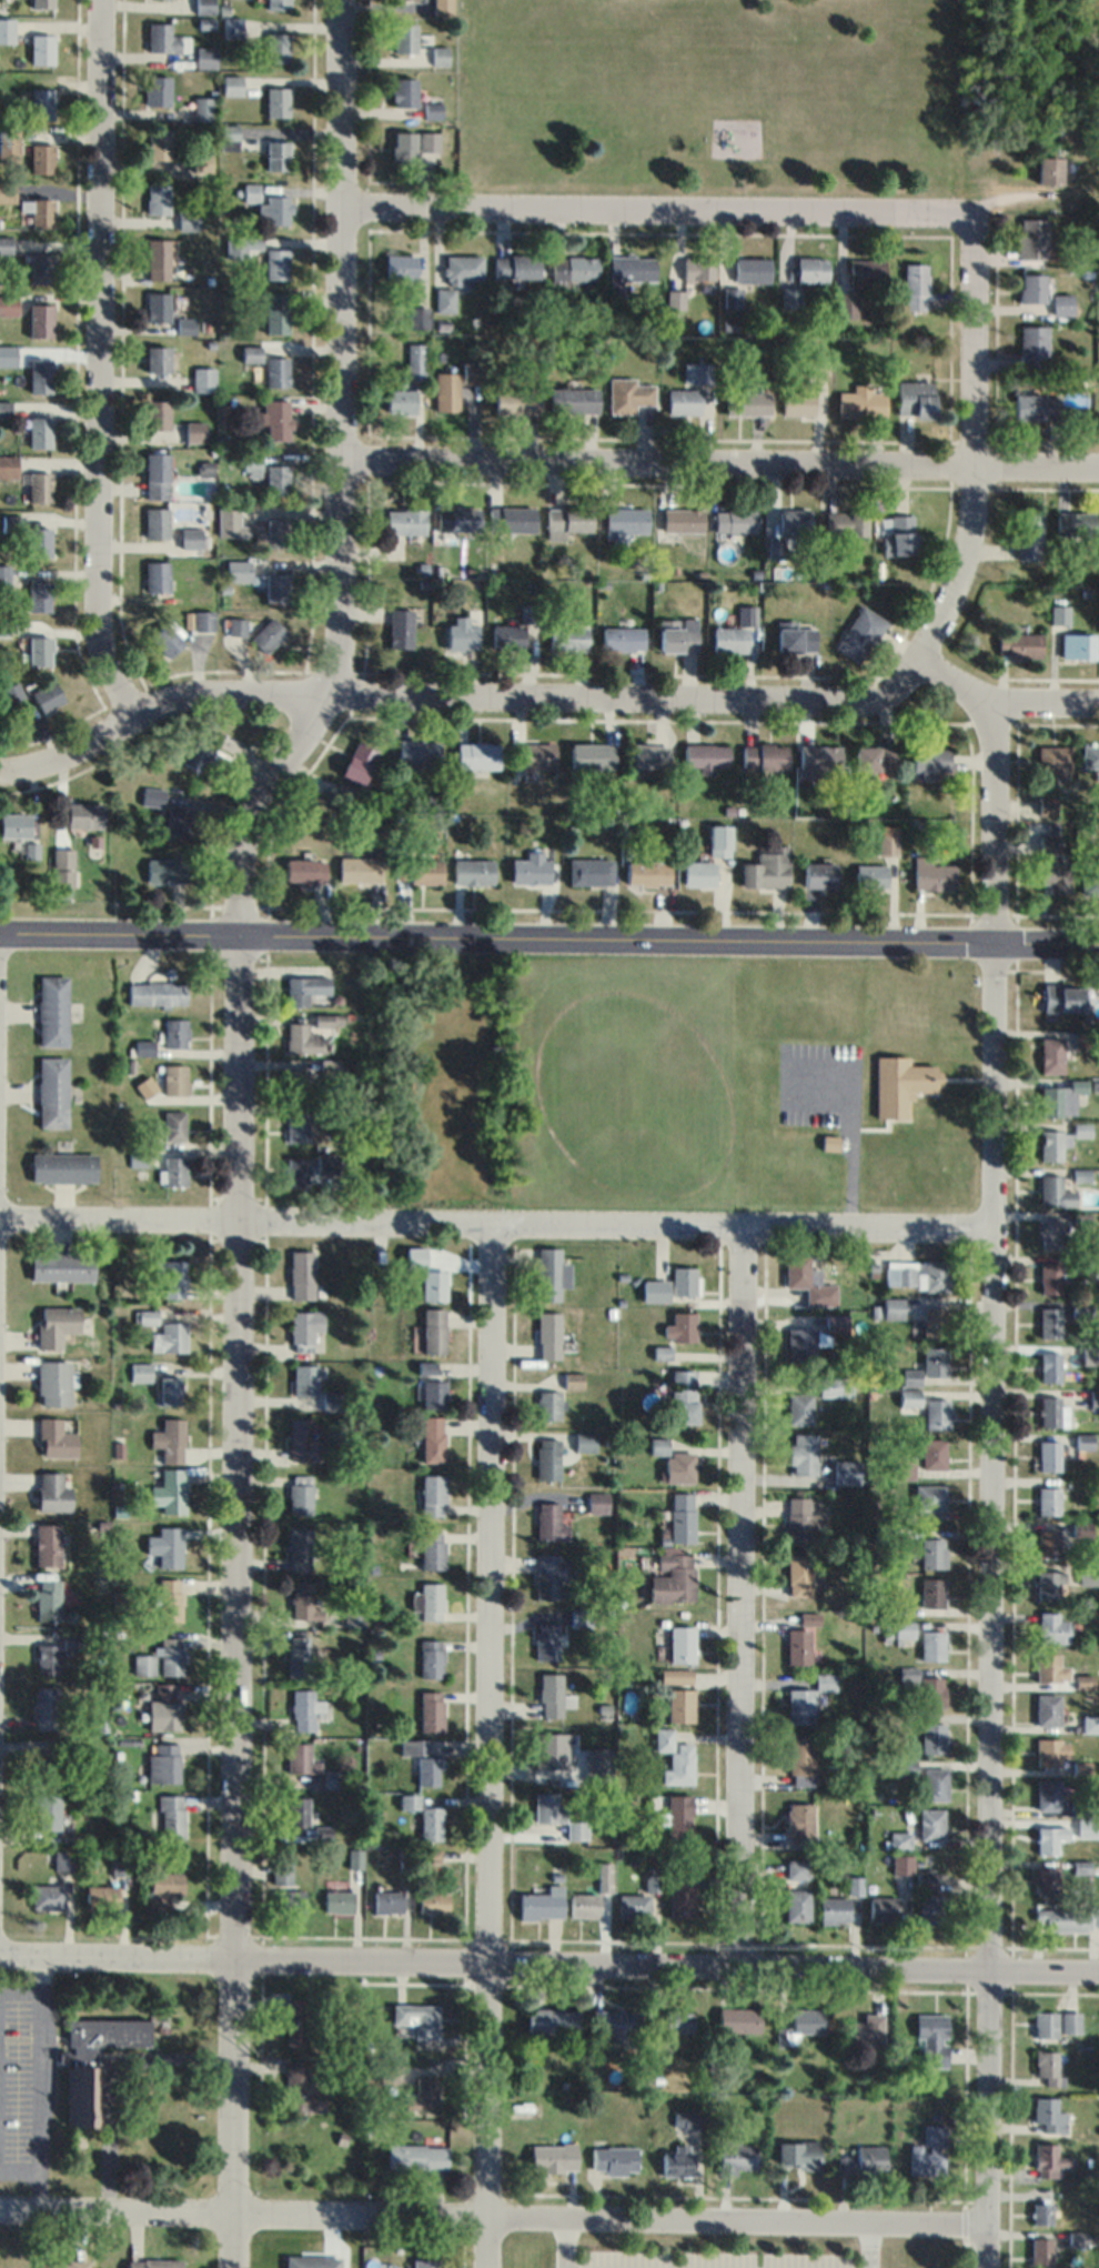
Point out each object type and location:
building: (42, 3)
building: (279, 4)
building: (204, 7)
building: (443, 7)
building: (232, 27)
building: (7, 33)
building: (165, 39)
building: (405, 39)
building: (278, 48)
building: (41, 49)
building: (440, 56)
building: (205, 57)
building: (231, 84)
building: (159, 90)
building: (405, 92)
building: (276, 102)
building: (41, 103)
building: (202, 109)
building: (433, 111)
building: (428, 141)
building: (158, 144)
building: (9, 145)
building: (404, 145)
building: (276, 155)
building: (41, 158)
building: (202, 161)
building: (1050, 170)
building: (6, 191)
building: (158, 199)
building: (269, 207)
road: (659, 210)
building: (38, 211)
building: (189, 219)
building: (1032, 238)
building: (242, 247)
building: (185, 251)
building: (158, 259)
building: (276, 263)
building: (402, 265)
building: (516, 265)
building: (464, 267)
building: (575, 267)
building: (40, 268)
building: (632, 268)
building: (698, 268)
building: (753, 269)
building: (813, 269)
building: (867, 271)
building: (916, 287)
building: (1032, 287)
building: (732, 297)
building: (790, 298)
building: (444, 299)
building: (1062, 303)
building: (8, 304)
building: (157, 307)
building: (276, 312)
building: (417, 317)
building: (40, 320)
building: (184, 325)
building: (1034, 345)
building: (251, 353)
building: (157, 360)
building: (415, 360)
road: (100, 365)
building: (276, 371)
building: (473, 371)
building: (696, 372)
building: (39, 378)
building: (202, 379)
building: (446, 391)
building: (627, 395)
building: (797, 399)
building: (574, 400)
building: (916, 400)
building: (400, 401)
building: (517, 401)
building: (683, 401)
building: (861, 401)
building: (746, 402)
building: (1036, 407)
building: (4, 410)
building: (155, 415)
building: (275, 419)
building: (194, 432)
building: (40, 433)
road: (975, 448)
building: (251, 464)
building: (8, 466)
road: (722, 470)
building: (157, 475)
building: (276, 480)
building: (39, 488)
building: (458, 519)
building: (512, 519)
building: (624, 520)
building: (680, 520)
building: (733, 520)
building: (404, 521)
building: (565, 521)
building: (794, 521)
building: (157, 522)
building: (230, 522)
building: (845, 523)
building: (12, 524)
building: (1073, 524)
building: (278, 534)
building: (900, 535)
building: (1028, 536)
building: (191, 538)
building: (39, 540)
building: (774, 548)
building: (238, 570)
building: (157, 576)
building: (3, 578)
building: (275, 586)
building: (39, 595)
building: (1059, 615)
building: (200, 620)
building: (234, 626)
building: (3, 628)
building: (401, 629)
building: (735, 632)
building: (677, 634)
building: (268, 635)
building: (461, 635)
building: (860, 635)
building: (507, 636)
building: (567, 638)
building: (623, 638)
building: (168, 640)
building: (796, 640)
building: (1019, 645)
building: (1078, 646)
building: (38, 651)
building: (13, 693)
building: (47, 698)
road: (457, 705)
road: (1002, 708)
building: (417, 754)
building: (196, 755)
building: (476, 755)
building: (534, 755)
building: (592, 755)
building: (706, 756)
building: (764, 756)
building: (1090, 756)
building: (648, 757)
building: (1053, 760)
building: (874, 761)
building: (819, 762)
building: (930, 762)
building: (359, 763)
building: (345, 794)
building: (152, 797)
building: (1047, 805)
building: (84, 816)
building: (179, 823)
building: (14, 825)
building: (887, 845)
building: (31, 851)
building: (1052, 865)
building: (63, 867)
building: (532, 869)
building: (359, 870)
building: (768, 870)
building: (167, 871)
building: (304, 871)
building: (425, 871)
building: (473, 871)
building: (591, 872)
building: (648, 873)
building: (699, 874)
building: (820, 875)
building: (932, 875)
building: (871, 876)
building: (1090, 882)
road: (548, 930)
building: (306, 989)
building: (157, 994)
building: (1062, 996)
building: (53, 1011)
building: (177, 1033)
building: (1083, 1038)
building: (304, 1040)
building: (145, 1048)
building: (1051, 1054)
building: (175, 1081)
building: (298, 1082)
building: (900, 1084)
building: (52, 1093)
building: (1061, 1097)
road: (241, 1122)
building: (174, 1126)
building: (298, 1127)
building: (1080, 1130)
building: (829, 1142)
building: (1051, 1145)
building: (138, 1160)
building: (326, 1164)
building: (63, 1168)
building: (175, 1171)
building: (296, 1173)
building: (1055, 1191)
road: (496, 1232)
building: (1048, 1233)
building: (1079, 1264)
building: (62, 1265)
building: (548, 1273)
building: (301, 1274)
building: (917, 1274)
building: (171, 1276)
building: (1049, 1277)
building: (684, 1279)
building: (808, 1279)
building: (432, 1284)
building: (655, 1289)
building: (1083, 1306)
building: (893, 1307)
building: (934, 1322)
building: (1049, 1322)
building: (56, 1325)
building: (680, 1326)
building: (304, 1328)
building: (433, 1329)
building: (548, 1335)
building: (169, 1336)
building: (814, 1337)
building: (1090, 1354)
building: (935, 1361)
building: (1049, 1366)
building: (139, 1372)
building: (683, 1376)
building: (910, 1376)
building: (303, 1379)
building: (573, 1379)
building: (53, 1382)
building: (834, 1386)
building: (170, 1389)
building: (432, 1393)
building: (909, 1397)
building: (1093, 1399)
building: (332, 1401)
building: (684, 1404)
building: (548, 1405)
building: (799, 1407)
building: (1052, 1411)
building: (936, 1413)
building: (432, 1437)
building: (56, 1438)
building: (169, 1439)
building: (304, 1441)
building: (1083, 1441)
building: (658, 1446)
building: (803, 1453)
building: (931, 1453)
building: (1048, 1455)
building: (547, 1458)
building: (682, 1466)
building: (846, 1472)
road: (990, 1486)
building: (52, 1492)
building: (300, 1494)
building: (432, 1494)
building: (172, 1496)
building: (929, 1498)
building: (1048, 1501)
building: (683, 1517)
building: (800, 1521)
building: (548, 1523)
building: (1081, 1531)
building: (1048, 1543)
building: (47, 1544)
building: (164, 1547)
building: (300, 1547)
building: (432, 1549)
building: (934, 1552)
building: (799, 1574)
building: (551, 1576)
building: (1088, 1576)
building: (673, 1578)
building: (1049, 1584)
building: (932, 1592)
road: (742, 1596)
building: (48, 1599)
building: (168, 1600)
building: (431, 1600)
building: (303, 1602)
building: (579, 1617)
building: (809, 1618)
building: (1052, 1628)
building: (71, 1640)
building: (546, 1642)
building: (682, 1644)
building: (932, 1645)
building: (798, 1646)
building: (171, 1656)
building: (299, 1656)
building: (47, 1658)
building: (431, 1658)
building: (1050, 1667)
building: (675, 1676)
building: (924, 1687)
building: (551, 1695)
building: (807, 1699)
building: (680, 1705)
building: (164, 1706)
building: (46, 1707)
building: (304, 1709)
building: (1048, 1709)
building: (431, 1710)
building: (1090, 1723)
building: (934, 1737)
road: (488, 1749)
building: (551, 1749)
building: (1051, 1750)
building: (674, 1757)
building: (300, 1758)
building: (422, 1760)
building: (801, 1760)
building: (163, 1763)
building: (597, 1764)
building: (47, 1766)
building: (1081, 1767)
building: (332, 1778)
building: (935, 1784)
building: (1048, 1794)
building: (298, 1809)
building: (46, 1810)
building: (557, 1815)
building: (170, 1816)
building: (424, 1816)
building: (1083, 1819)
building: (679, 1820)
building: (799, 1822)
building: (931, 1823)
building: (322, 1833)
building: (1050, 1837)
building: (354, 1857)
building: (63, 1859)
building: (119, 1864)
building: (901, 1864)
building: (796, 1868)
building: (281, 1873)
building: (925, 1878)
building: (1046, 1880)
building: (652, 1881)
building: (854, 1885)
building: (162, 1889)
building: (47, 1896)
building: (680, 1896)
building: (101, 1897)
building: (290, 1900)
building: (339, 1900)
building: (387, 1900)
building: (433, 1901)
building: (542, 1903)
building: (584, 1905)
building: (796, 1905)
building: (633, 1906)
building: (883, 1908)
building: (931, 1908)
building: (834, 1909)
building: (1066, 1918)
street lamp: (105, 1938)
street lamp: (762, 1948)
street lamp: (940, 1950)
street lamp: (1015, 1951)
road: (548, 1956)
road: (19, 1991)
building: (417, 2019)
building: (738, 2019)
building: (552, 2020)
building: (676, 2021)
building: (296, 2023)
building: (1070, 2023)
building: (799, 2025)
building: (1045, 2025)
building: (617, 2026)
building: (863, 2030)
building: (930, 2037)
building: (90, 2049)
building: (1046, 2067)
road: (109, 2069)
parking lot: (24, 2074)
road: (38, 2079)
building: (303, 2086)
building: (422, 2095)
building: (1049, 2115)
building: (686, 2119)
building: (928, 2152)
building: (798, 2155)
building: (416, 2157)
building: (737, 2157)
building: (554, 2158)
building: (677, 2159)
building: (615, 2160)
building: (864, 2160)
building: (1050, 2160)
road: (19, 2171)
street lamp: (1004, 2185)
building: (1042, 2214)
road: (493, 2216)
road: (563, 2242)
road: (868, 2244)
building: (1041, 2251)
road: (962, 2252)
parking lot: (709, 2260)
building: (312, 2261)
building: (154, 2262)

